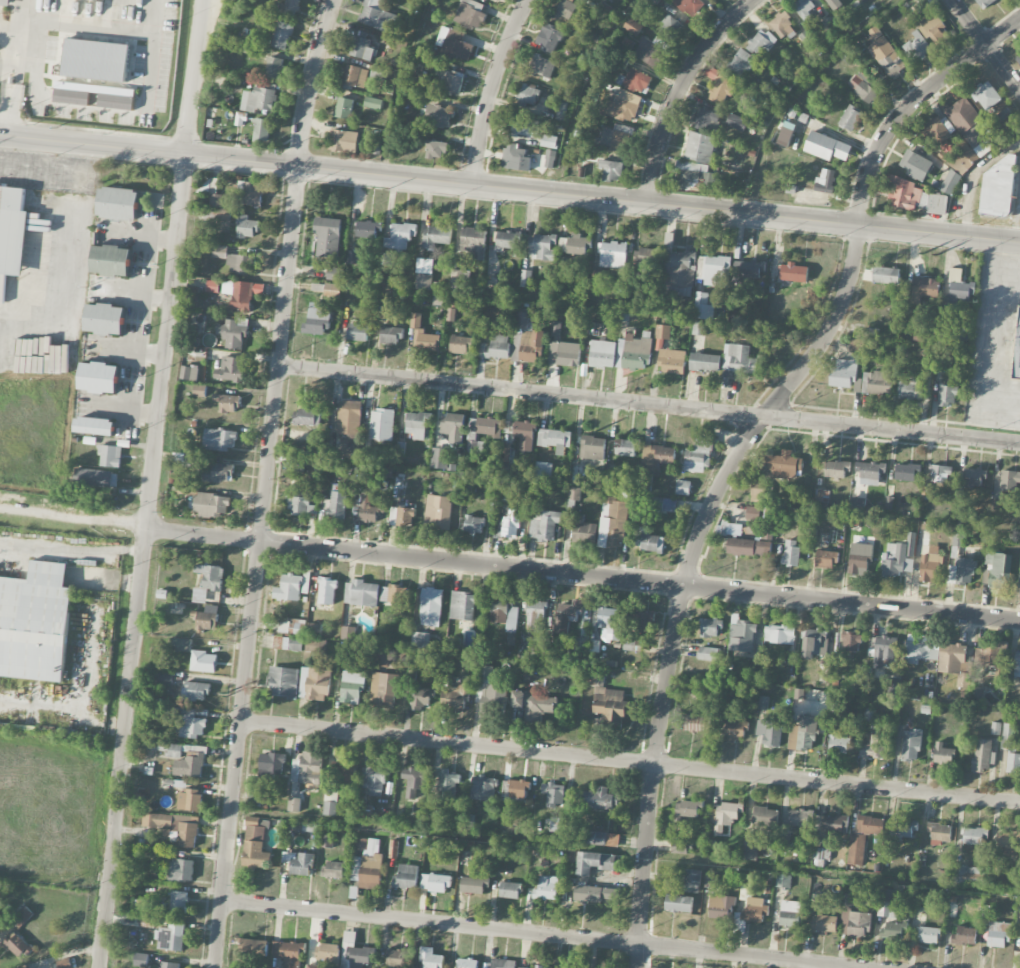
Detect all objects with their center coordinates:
building: (492, 0)
building: (5, 2)
building: (652, 2)
building: (835, 3)
building: (985, 3)
building: (689, 6)
building: (287, 7)
building: (804, 7)
building: (566, 9)
road: (21, 10)
building: (470, 14)
building: (377, 16)
building: (632, 26)
building: (671, 27)
building: (936, 29)
road: (155, 33)
building: (282, 35)
building: (549, 37)
building: (454, 43)
building: (761, 43)
road: (987, 43)
building: (361, 45)
building: (917, 48)
building: (651, 51)
building: (885, 53)
building: (1018, 56)
building: (96, 60)
building: (741, 64)
building: (274, 67)
building: (541, 67)
building: (379, 73)
building: (355, 76)
building: (636, 81)
building: (449, 82)
building: (863, 88)
road: (489, 89)
road: (676, 90)
building: (720, 90)
building: (529, 94)
building: (986, 95)
building: (116, 97)
building: (258, 100)
building: (372, 103)
building: (622, 106)
building: (344, 108)
building: (437, 116)
building: (850, 118)
building: (708, 120)
building: (736, 122)
building: (971, 125)
building: (261, 129)
building: (532, 130)
building: (938, 131)
building: (786, 134)
building: (616, 138)
building: (344, 141)
building: (700, 147)
building: (826, 147)
building: (436, 149)
building: (960, 157)
building: (515, 158)
building: (550, 158)
building: (916, 165)
building: (611, 169)
road: (47, 171)
building: (697, 175)
road: (974, 178)
building: (825, 181)
building: (950, 182)
building: (997, 188)
road: (509, 189)
building: (904, 192)
building: (249, 193)
building: (933, 202)
building: (118, 203)
building: (219, 207)
building: (246, 227)
building: (367, 229)
building: (12, 230)
building: (327, 236)
building: (399, 236)
building: (436, 236)
building: (506, 241)
building: (474, 242)
building: (574, 244)
building: (542, 247)
building: (220, 252)
building: (613, 255)
building: (647, 257)
building: (111, 260)
building: (236, 264)
road: (997, 265)
building: (714, 270)
building: (749, 271)
building: (794, 272)
building: (682, 273)
building: (333, 274)
building: (424, 274)
building: (882, 275)
building: (525, 278)
building: (212, 286)
building: (924, 288)
building: (960, 288)
building: (243, 294)
building: (192, 296)
road: (61, 297)
building: (704, 306)
building: (105, 319)
building: (317, 319)
building: (523, 320)
building: (556, 328)
building: (698, 328)
building: (235, 332)
building: (358, 332)
building: (663, 332)
building: (738, 332)
building: (953, 334)
building: (391, 335)
building: (423, 335)
building: (460, 345)
building: (532, 345)
building: (855, 346)
building: (495, 347)
building: (1017, 351)
building: (634, 352)
building: (602, 353)
building: (564, 354)
building: (740, 360)
building: (672, 361)
building: (705, 362)
building: (230, 369)
building: (189, 373)
building: (878, 375)
building: (99, 377)
building: (910, 386)
building: (199, 390)
building: (947, 395)
road: (648, 402)
building: (228, 403)
building: (306, 417)
building: (349, 417)
building: (382, 424)
building: (418, 425)
building: (95, 426)
building: (489, 426)
building: (454, 427)
building: (525, 434)
building: (554, 438)
building: (219, 439)
building: (593, 447)
building: (626, 447)
road: (738, 448)
building: (507, 453)
building: (699, 455)
building: (110, 456)
building: (656, 458)
building: (191, 461)
building: (297, 464)
building: (785, 465)
building: (836, 469)
building: (543, 471)
building: (217, 472)
building: (907, 472)
building: (869, 473)
building: (940, 473)
building: (578, 475)
building: (975, 477)
building: (96, 478)
building: (612, 478)
building: (1009, 480)
road: (264, 482)
road: (149, 483)
building: (683, 488)
building: (759, 492)
building: (574, 493)
building: (822, 495)
building: (301, 504)
building: (212, 505)
building: (336, 505)
building: (663, 505)
building: (368, 509)
building: (437, 511)
building: (753, 513)
building: (402, 516)
road: (72, 517)
building: (613, 521)
building: (473, 524)
building: (508, 525)
building: (545, 526)
building: (729, 529)
building: (640, 530)
building: (581, 531)
building: (650, 543)
building: (747, 547)
building: (791, 552)
building: (898, 557)
building: (859, 558)
building: (827, 559)
building: (930, 567)
building: (998, 570)
building: (962, 571)
road: (582, 575)
building: (1019, 576)
building: (208, 581)
building: (289, 588)
building: (361, 593)
building: (393, 594)
building: (325, 595)
building: (462, 606)
building: (431, 607)
building: (505, 615)
building: (536, 615)
building: (566, 616)
building: (642, 617)
building: (208, 618)
building: (35, 622)
building: (609, 623)
building: (297, 626)
building: (710, 628)
building: (314, 629)
building: (779, 634)
building: (742, 635)
building: (815, 642)
building: (851, 642)
building: (288, 643)
building: (181, 644)
building: (454, 644)
building: (579, 644)
building: (631, 645)
building: (919, 649)
building: (881, 650)
building: (708, 653)
building: (381, 656)
building: (991, 659)
building: (203, 661)
building: (955, 663)
building: (1017, 664)
building: (485, 672)
building: (165, 678)
building: (284, 681)
building: (314, 684)
building: (892, 685)
building: (352, 687)
building: (383, 689)
building: (196, 690)
building: (493, 695)
building: (455, 696)
building: (421, 698)
building: (610, 703)
building: (535, 705)
building: (869, 714)
building: (698, 723)
building: (193, 726)
building: (995, 728)
building: (735, 730)
building: (769, 733)
building: (802, 734)
building: (1007, 736)
building: (839, 744)
building: (911, 744)
building: (163, 747)
building: (874, 748)
building: (943, 753)
building: (982, 755)
road: (629, 762)
building: (1013, 762)
building: (190, 763)
building: (271, 764)
building: (308, 768)
building: (344, 772)
building: (373, 780)
building: (415, 781)
building: (448, 785)
building: (483, 788)
building: (515, 789)
building: (556, 794)
building: (601, 799)
building: (189, 800)
building: (258, 800)
building: (330, 802)
building: (294, 804)
building: (688, 809)
building: (364, 812)
building: (728, 813)
building: (799, 817)
building: (766, 818)
building: (831, 823)
building: (870, 825)
building: (176, 826)
building: (902, 829)
building: (939, 833)
building: (974, 836)
building: (595, 838)
building: (327, 841)
building: (1008, 842)
building: (255, 844)
building: (680, 846)
building: (856, 849)
building: (750, 850)
building: (821, 855)
building: (594, 862)
building: (297, 863)
building: (368, 864)
building: (181, 870)
building: (334, 870)
building: (968, 875)
building: (406, 877)
building: (692, 881)
building: (710, 881)
building: (783, 881)
building: (435, 882)
building: (474, 885)
building: (547, 887)
building: (510, 890)
building: (596, 894)
building: (178, 902)
building: (679, 903)
building: (887, 903)
building: (142, 906)
building: (721, 906)
building: (755, 909)
building: (790, 913)
building: (1019, 913)
building: (21, 918)
building: (853, 918)
building: (147, 923)
building: (824, 923)
building: (892, 930)
road: (536, 933)
building: (999, 934)
building: (929, 935)
building: (964, 936)
building: (171, 937)
building: (18, 945)
building: (255, 947)
building: (288, 952)
building: (327, 953)
building: (397, 958)
building: (431, 958)
building: (141, 960)
building: (467, 963)
building: (503, 963)
building: (169, 965)
building: (311, 966)
building: (527, 967)

